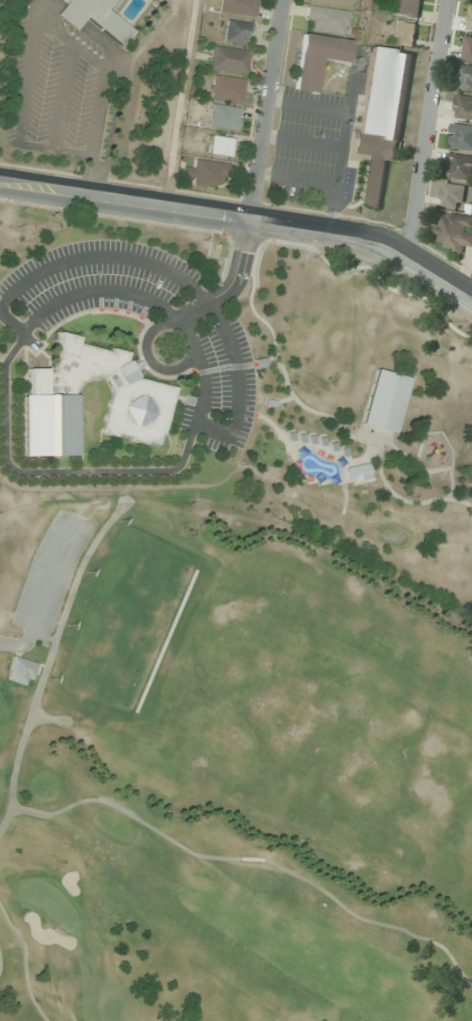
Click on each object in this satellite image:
building: (237, 7)
building: (407, 8)
building: (94, 17)
building: (324, 19)
building: (470, 22)
building: (235, 32)
building: (404, 32)
building: (468, 49)
building: (315, 58)
building: (227, 60)
building: (466, 77)
building: (226, 89)
building: (464, 107)
road: (272, 111)
building: (222, 117)
building: (381, 119)
road: (434, 125)
building: (462, 137)
building: (219, 146)
building: (460, 166)
building: (208, 173)
building: (454, 195)
road: (241, 220)
building: (455, 230)
park: (244, 388)
building: (108, 389)
building: (383, 401)
building: (47, 425)
building: (357, 472)
road: (43, 592)
building: (20, 671)
park: (225, 773)

